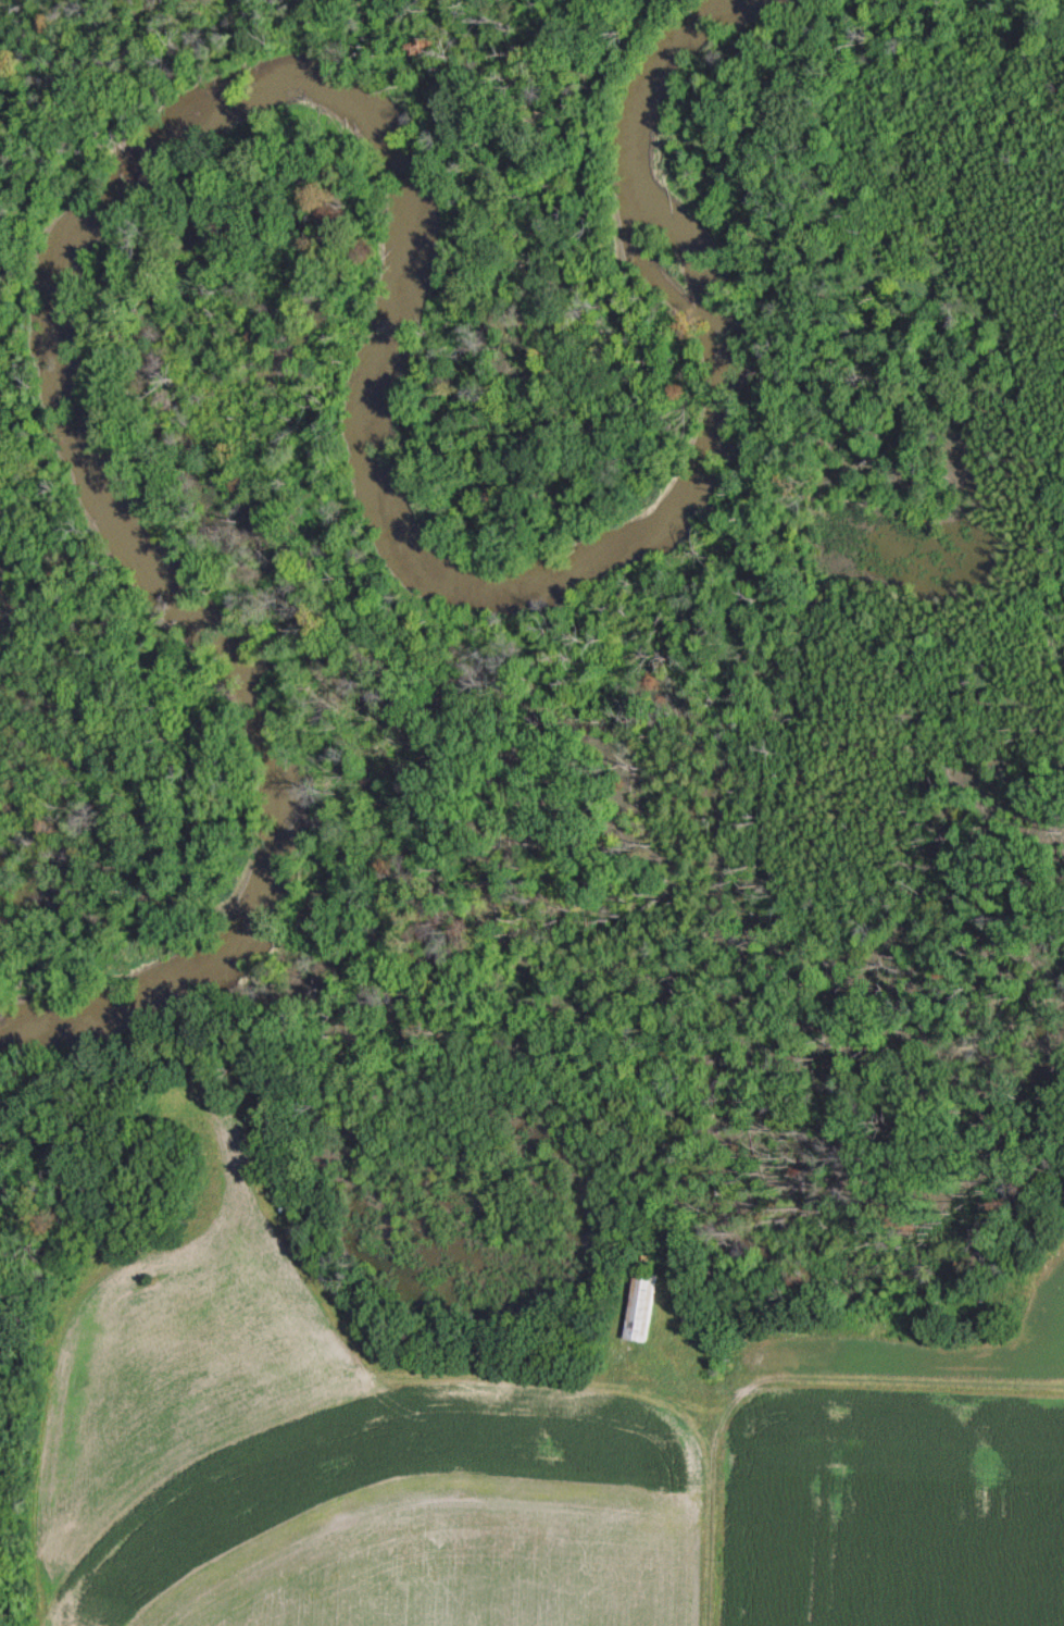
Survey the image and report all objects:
building: (643, 1306)
road: (885, 1385)
road: (566, 1387)

